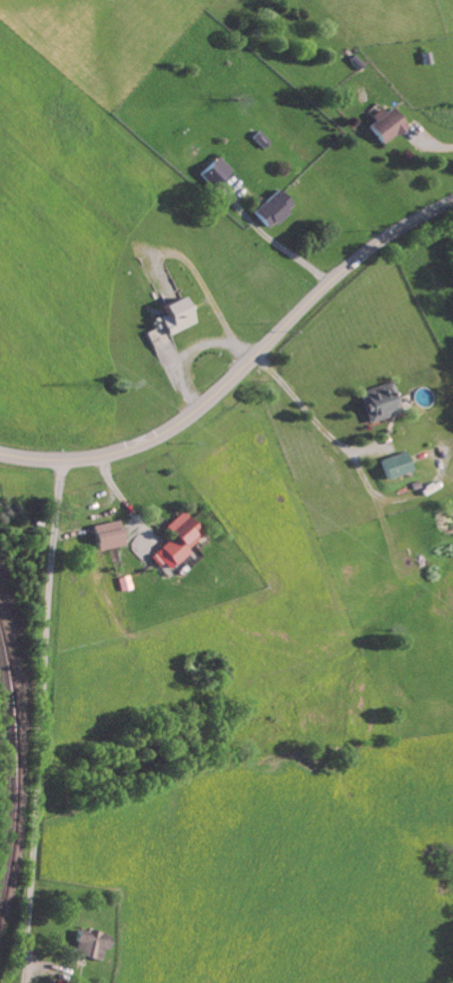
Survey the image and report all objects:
building: (388, 125)
building: (217, 173)
building: (275, 209)
building: (177, 316)
road: (241, 365)
building: (381, 402)
road: (309, 413)
building: (396, 466)
building: (109, 536)
building: (178, 543)
road: (45, 721)
railway: (14, 770)
building: (92, 945)

